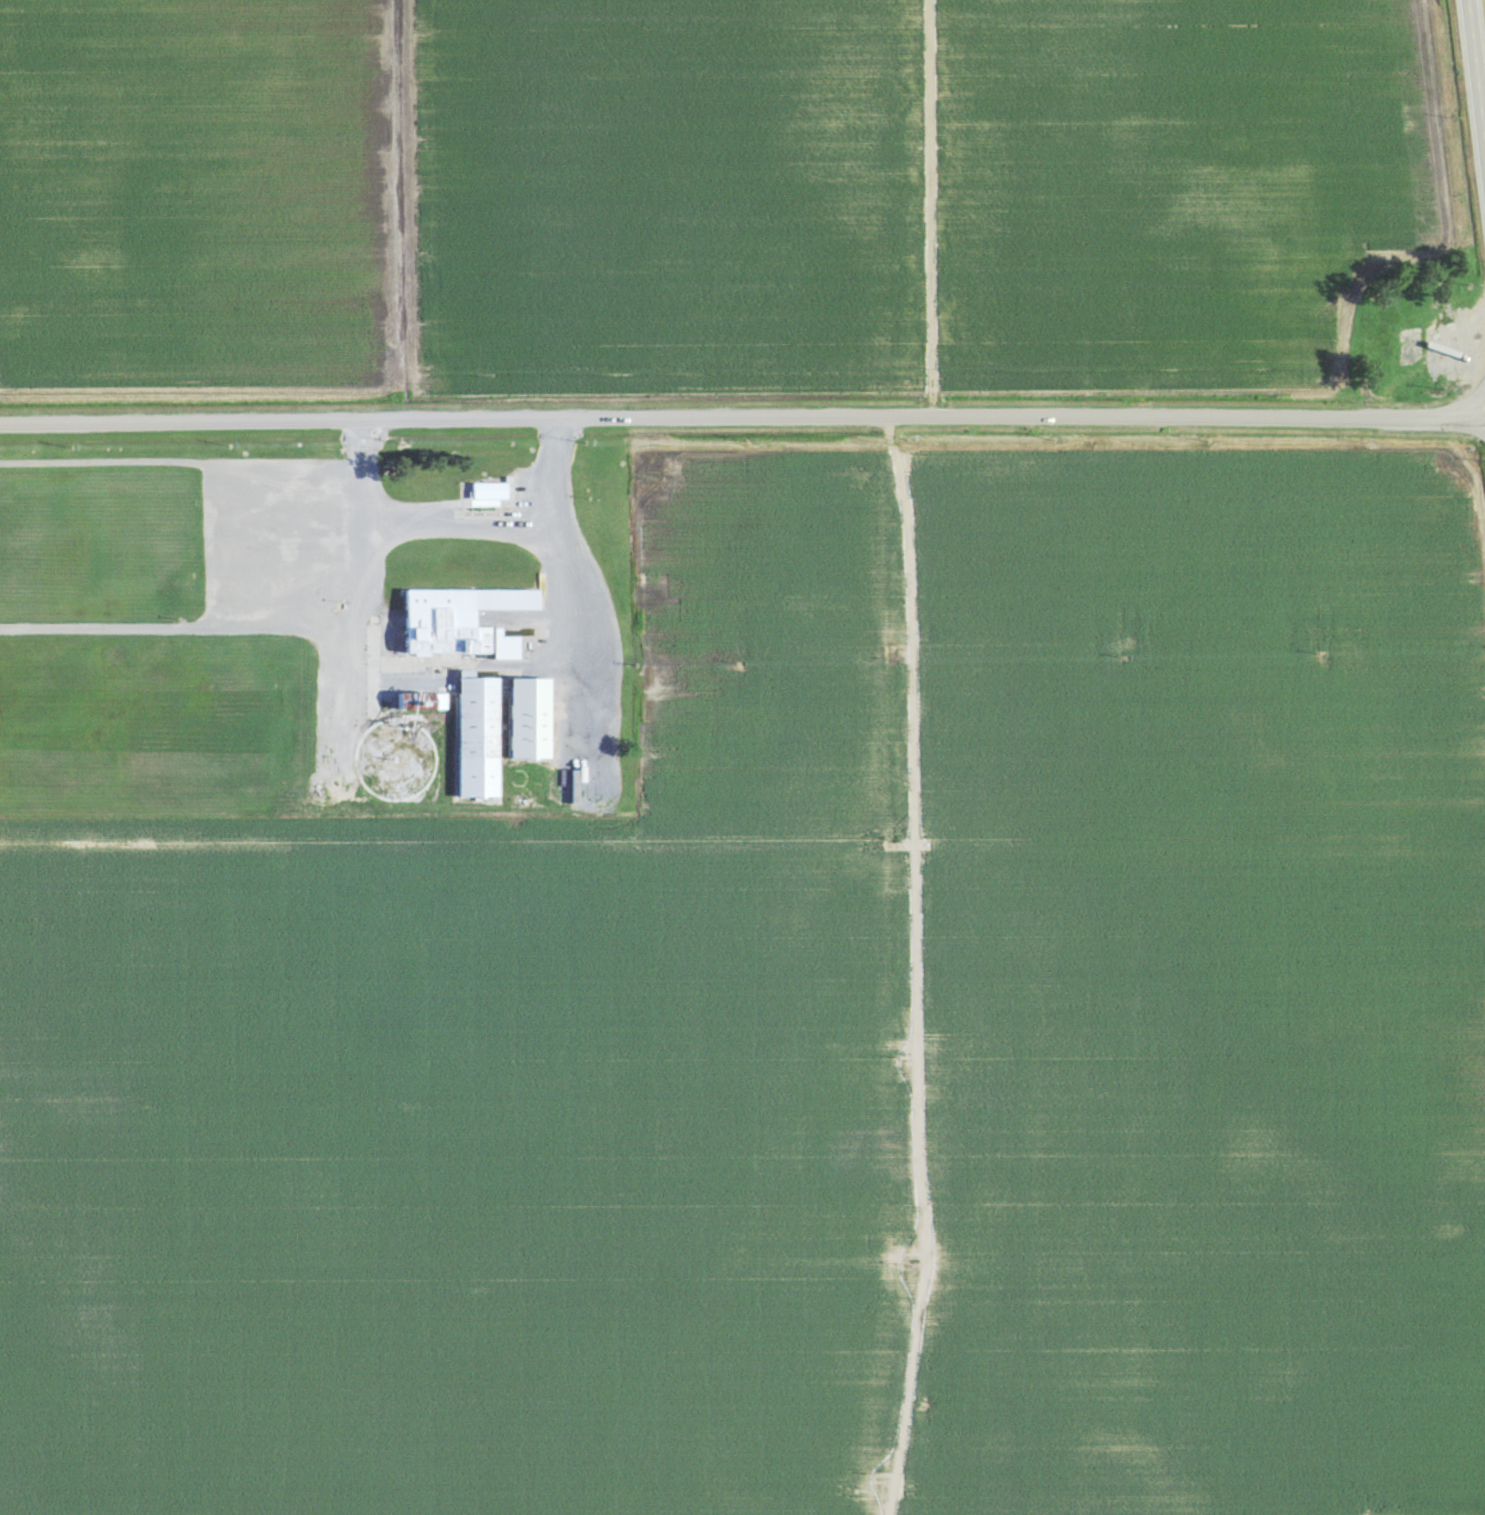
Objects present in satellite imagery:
road: (1476, 71)
road: (446, 415)
road: (1189, 416)
building: (486, 495)
road: (462, 507)
building: (448, 620)
building: (527, 721)
road: (901, 965)

